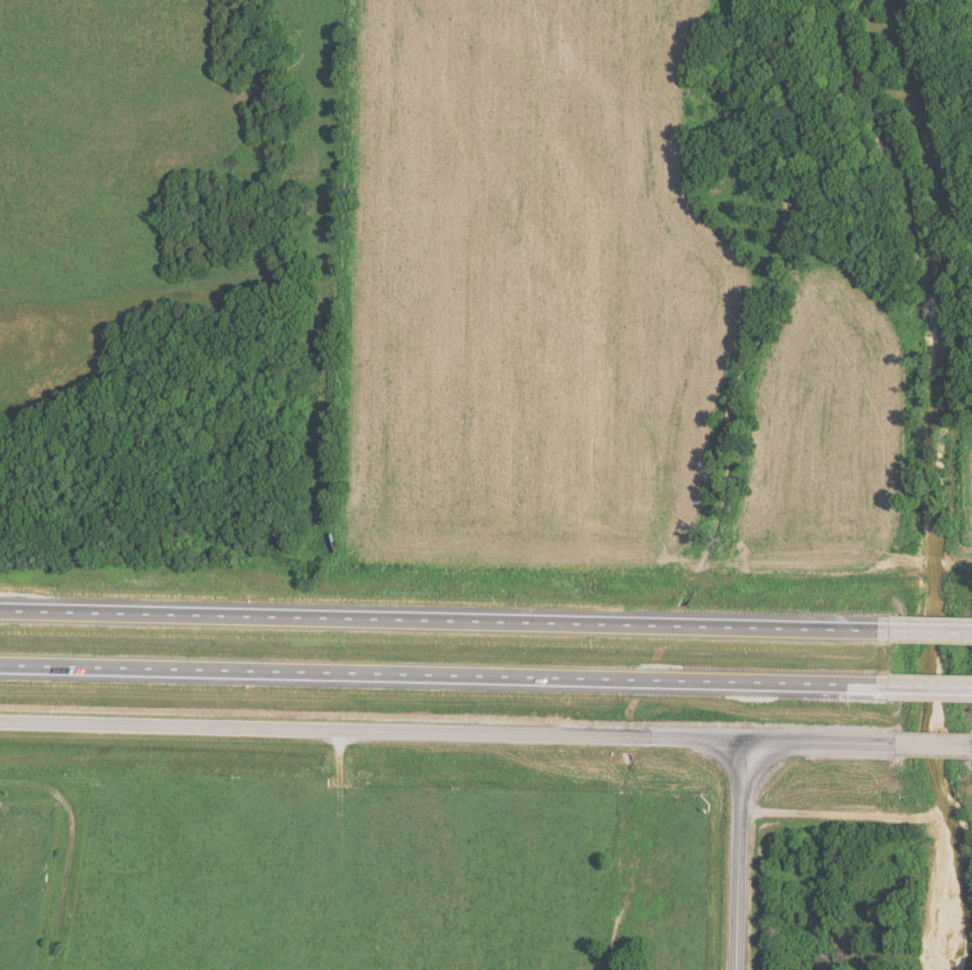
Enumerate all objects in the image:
road: (445, 621)
road: (932, 629)
road: (446, 677)
building: (934, 687)
road: (932, 688)
road: (371, 731)
road: (818, 744)
road: (931, 746)
road: (970, 747)
road: (740, 856)

